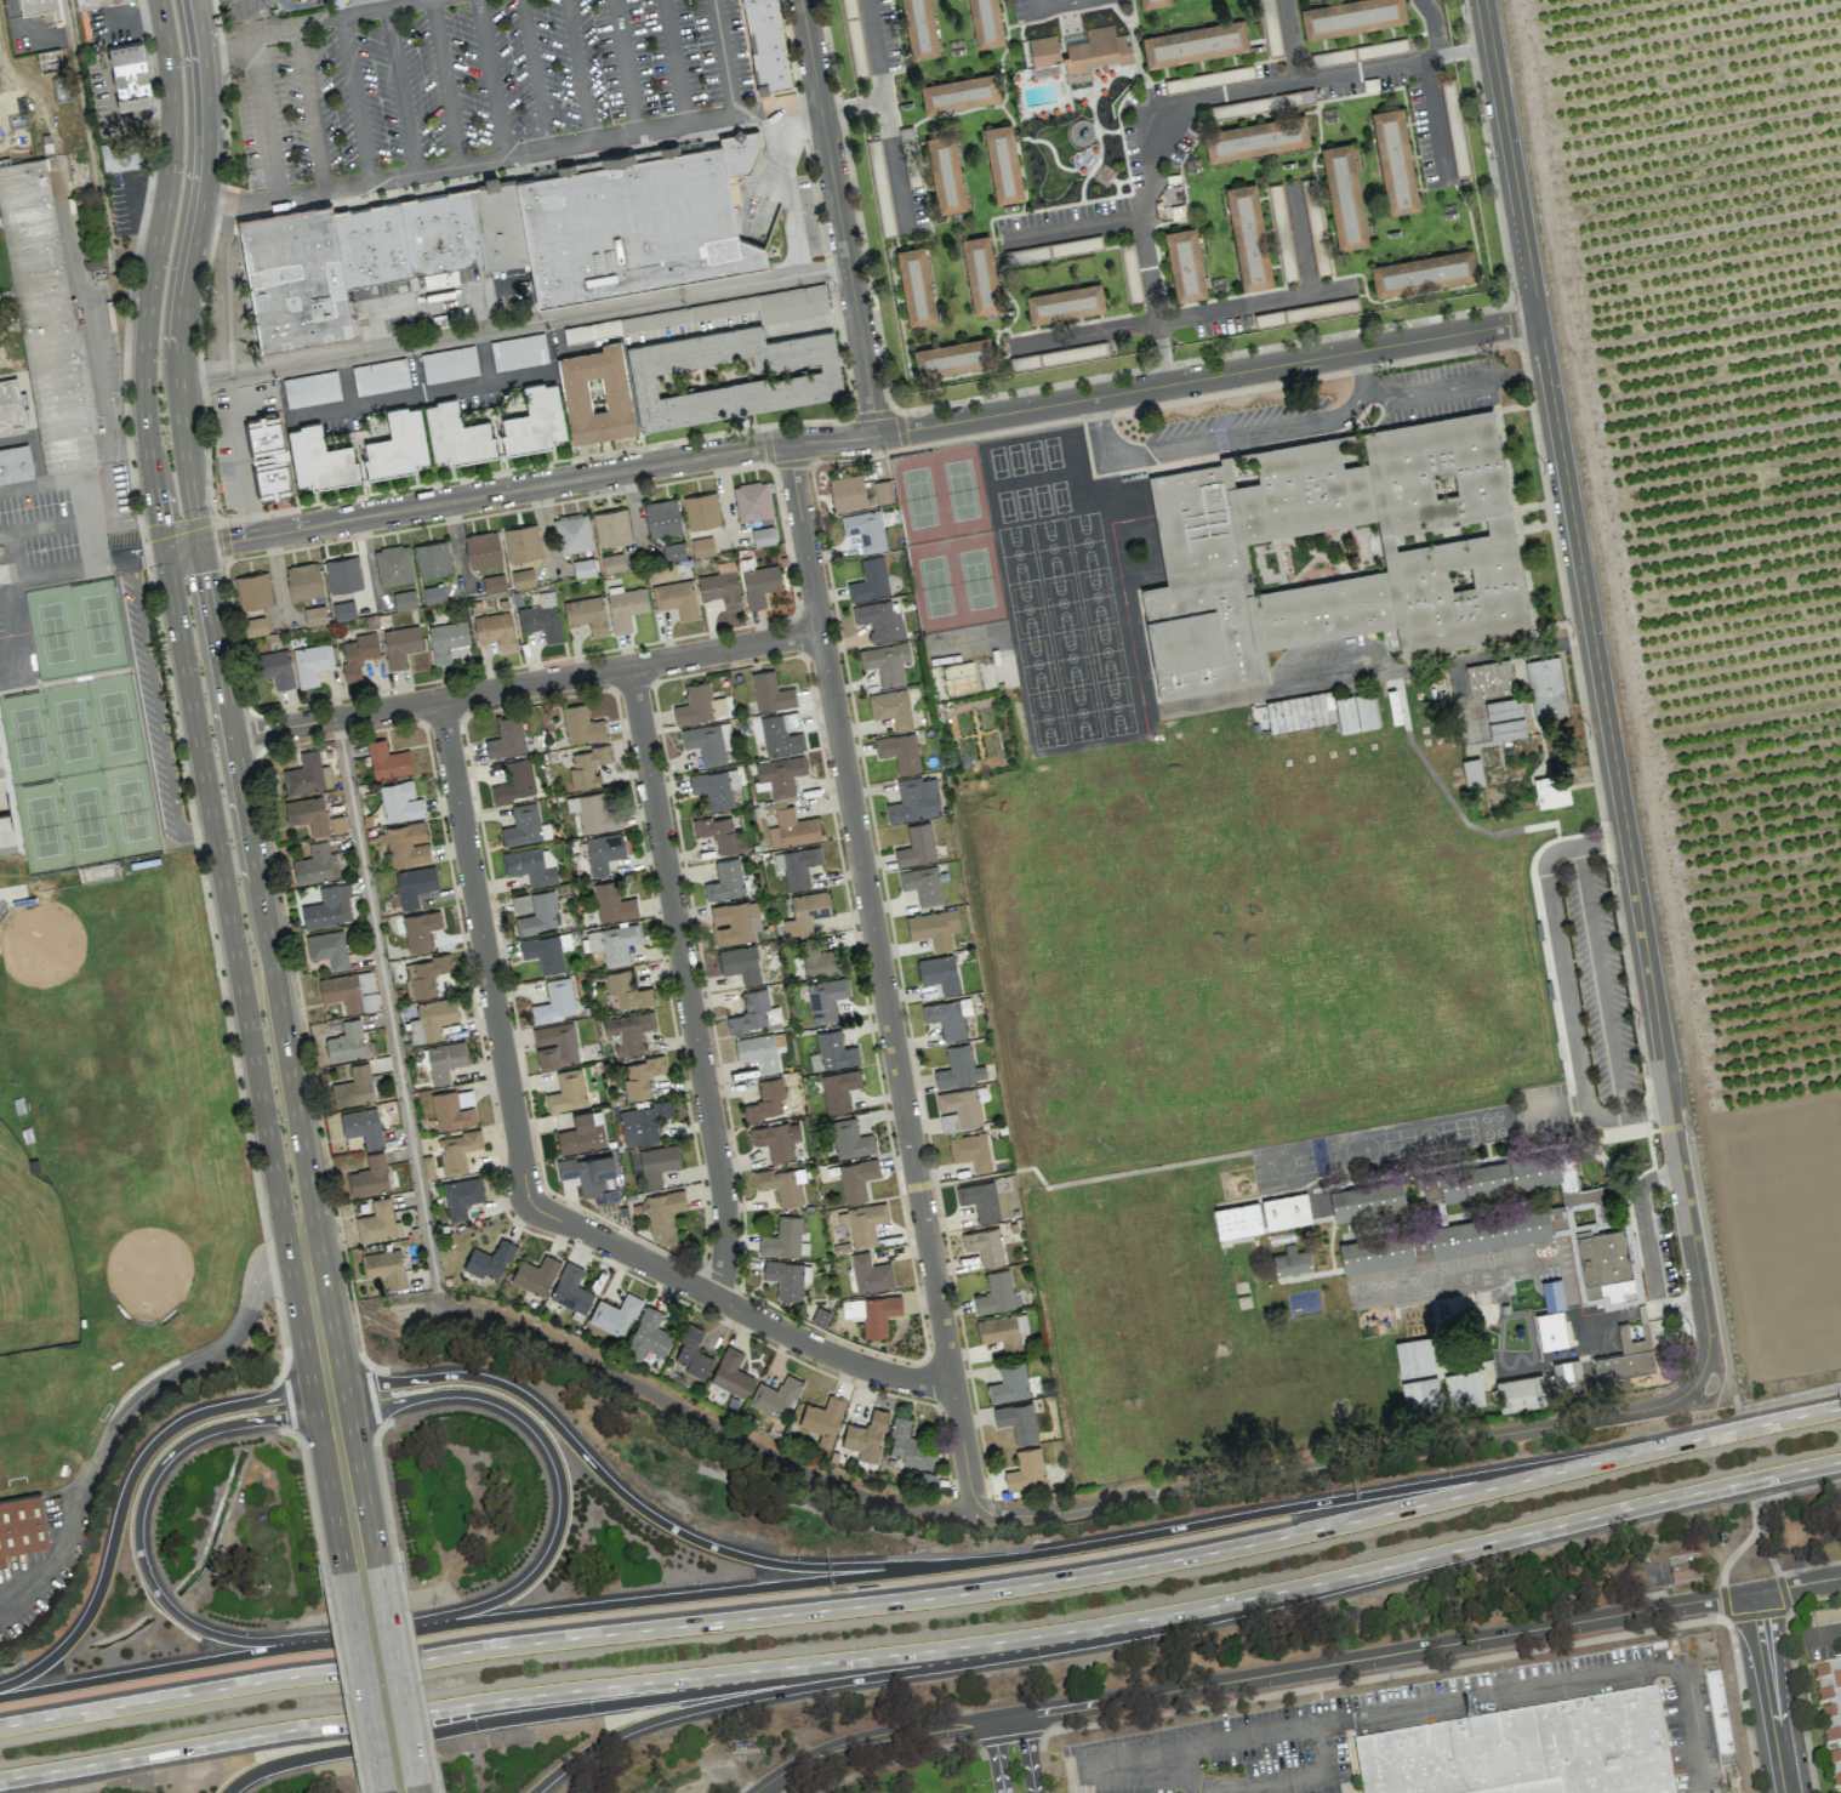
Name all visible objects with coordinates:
building: (91, 2)
road: (246, 2)
building: (1155, 2)
road: (296, 4)
road: (1064, 7)
building: (42, 8)
parking lot: (244, 10)
road: (366, 10)
building: (1351, 17)
building: (986, 23)
road: (18, 27)
building: (920, 29)
road: (1432, 34)
road: (256, 35)
road: (1288, 40)
building: (1197, 44)
building: (765, 45)
road: (1465, 49)
road: (874, 51)
building: (1082, 51)
road: (722, 57)
building: (49, 61)
road: (673, 61)
road: (625, 66)
road: (577, 69)
building: (129, 74)
road: (534, 74)
road: (490, 79)
road: (1290, 81)
road: (445, 82)
parking lot: (483, 86)
road: (399, 90)
building: (959, 93)
road: (357, 97)
road: (310, 107)
road: (851, 107)
road: (263, 118)
road: (682, 123)
building: (1258, 137)
building: (739, 150)
road: (525, 153)
building: (120, 154)
building: (1395, 161)
building: (1004, 164)
road: (895, 165)
building: (946, 173)
road: (377, 180)
road: (785, 186)
building: (1346, 194)
road: (227, 200)
road: (838, 217)
building: (497, 222)
building: (631, 223)
road: (1077, 224)
building: (472, 226)
building: (437, 232)
building: (1249, 233)
building: (370, 243)
building: (1187, 263)
road: (192, 273)
building: (1425, 273)
building: (982, 274)
road: (150, 275)
building: (293, 277)
building: (916, 288)
road: (1152, 301)
building: (791, 302)
building: (1062, 302)
road: (224, 306)
road: (1218, 308)
building: (45, 318)
road: (513, 325)
building: (586, 331)
road: (95, 346)
building: (518, 352)
building: (954, 357)
building: (449, 364)
building: (730, 374)
building: (381, 376)
road: (1452, 385)
building: (310, 388)
building: (595, 393)
building: (10, 408)
building: (535, 420)
building: (456, 433)
road: (868, 436)
road: (1229, 437)
building: (398, 444)
park: (1050, 450)
park: (1033, 454)
road: (240, 455)
building: (268, 455)
park: (1015, 456)
building: (319, 457)
park: (996, 460)
building: (15, 462)
road: (771, 463)
road: (92, 477)
road: (79, 482)
park: (962, 490)
building: (882, 491)
building: (847, 493)
park: (1058, 494)
park: (918, 497)
park: (1039, 497)
building: (752, 501)
park: (1022, 501)
park: (1003, 503)
building: (701, 511)
building: (661, 517)
road: (203, 522)
traffic signals: (159, 524)
road: (50, 525)
building: (611, 526)
building: (865, 530)
building: (571, 533)
building: (763, 535)
park: (1085, 540)
traffic signals: (229, 541)
building: (521, 542)
park: (1050, 545)
building: (702, 546)
road: (16, 547)
road: (181, 548)
building: (483, 548)
building: (673, 551)
park: (1015, 551)
building: (1336, 551)
road: (1577, 553)
traffic signals: (139, 557)
road: (129, 558)
building: (432, 558)
building: (614, 562)
building: (393, 564)
building: (583, 567)
traffic signals: (203, 573)
building: (342, 574)
road: (25, 576)
building: (523, 577)
park: (978, 579)
building: (870, 580)
building: (303, 581)
building: (494, 584)
building: (759, 584)
building: (720, 586)
park: (934, 586)
building: (252, 590)
building: (433, 593)
park: (1095, 594)
building: (404, 598)
building: (676, 598)
park: (1060, 600)
building: (625, 607)
park: (1025, 607)
building: (343, 610)
building: (314, 614)
building: (586, 614)
building: (542, 617)
building: (880, 620)
park: (102, 626)
building: (253, 626)
building: (495, 630)
park: (57, 634)
building: (446, 639)
building: (400, 644)
park: (1105, 650)
building: (358, 653)
road: (1493, 654)
park: (1068, 655)
park: (1035, 661)
building: (310, 662)
building: (885, 662)
building: (273, 667)
building: (1489, 678)
road: (524, 684)
building: (1545, 688)
road: (1398, 690)
building: (770, 691)
building: (699, 704)
park: (1113, 705)
building: (891, 707)
building: (1503, 707)
road: (158, 711)
park: (1079, 711)
building: (1355, 711)
park: (1044, 717)
park: (120, 723)
building: (581, 724)
building: (1506, 728)
park: (75, 732)
building: (781, 734)
building: (506, 738)
park: (32, 739)
building: (708, 742)
building: (899, 751)
building: (387, 759)
building: (586, 765)
building: (1471, 770)
building: (307, 774)
building: (780, 774)
building: (514, 781)
building: (714, 787)
building: (1551, 790)
building: (914, 799)
building: (399, 801)
park: (135, 813)
building: (593, 813)
building: (308, 815)
park: (91, 820)
building: (337, 824)
building: (521, 825)
park: (46, 829)
building: (792, 829)
building: (719, 832)
building: (405, 843)
building: (919, 847)
building: (603, 852)
building: (315, 865)
building: (531, 865)
building: (796, 865)
building: (725, 881)
building: (922, 884)
building: (412, 886)
building: (520, 903)
building: (611, 903)
building: (329, 907)
building: (805, 912)
building: (538, 913)
building: (734, 922)
building: (933, 927)
building: (420, 929)
building: (612, 943)
building: (327, 949)
road: (483, 950)
building: (543, 952)
building: (819, 960)
building: (740, 963)
road: (1560, 964)
building: (939, 973)
building: (423, 975)
road: (879, 978)
parking lot: (1598, 978)
road: (684, 980)
road: (1601, 980)
road: (274, 986)
road: (240, 987)
building: (349, 991)
building: (825, 998)
building: (554, 1001)
road: (388, 1011)
building: (754, 1012)
building: (947, 1015)
park: (122, 1019)
building: (432, 1019)
building: (628, 1030)
building: (346, 1041)
building: (554, 1045)
building: (834, 1049)
building: (757, 1051)
park: (1, 1053)
building: (444, 1060)
building: (958, 1068)
building: (640, 1076)
building: (354, 1086)
building: (838, 1089)
building: (568, 1091)
road: (1674, 1093)
building: (765, 1100)
building: (961, 1105)
road: (1554, 1105)
building: (454, 1109)
parking lot: (1545, 1109)
road: (1646, 1111)
building: (642, 1122)
building: (948, 1122)
building: (361, 1126)
road: (1672, 1127)
building: (582, 1133)
road: (1607, 1138)
road: (1674, 1138)
building: (776, 1139)
building: (850, 1139)
road: (1027, 1145)
building: (457, 1150)
building: (970, 1151)
building: (657, 1163)
road: (1648, 1168)
road: (1607, 1171)
building: (369, 1176)
building: (591, 1176)
building: (1498, 1176)
building: (856, 1178)
road: (1082, 1180)
building: (782, 1184)
road: (913, 1184)
building: (1568, 1186)
building: (461, 1196)
building: (979, 1200)
building: (1368, 1200)
building: (1286, 1211)
building: (661, 1213)
building: (1236, 1219)
building: (377, 1222)
building: (863, 1223)
road: (1589, 1225)
building: (1494, 1231)
road: (1691, 1234)
park: (156, 1236)
building: (782, 1237)
building: (985, 1245)
road: (1647, 1246)
building: (1375, 1252)
parking lot: (1660, 1254)
park: (32, 1257)
building: (489, 1259)
building: (1292, 1260)
road: (1575, 1262)
building: (1606, 1264)
building: (384, 1267)
road: (1711, 1267)
building: (870, 1273)
building: (535, 1275)
building: (787, 1277)
building: (570, 1290)
road: (1638, 1291)
building: (996, 1292)
road: (733, 1307)
building: (871, 1313)
building: (614, 1315)
building: (820, 1316)
building: (1002, 1331)
building: (646, 1336)
road: (1706, 1339)
building: (691, 1353)
building: (1414, 1356)
building: (1626, 1362)
building: (730, 1372)
building: (1567, 1372)
building: (1009, 1382)
building: (1521, 1393)
building: (1465, 1395)
road: (1801, 1395)
building: (723, 1396)
building: (776, 1398)
building: (1420, 1398)
road: (286, 1402)
road: (120, 1413)
road: (703, 1417)
building: (822, 1419)
building: (1018, 1421)
road: (1784, 1422)
building: (866, 1436)
building: (910, 1445)
road: (1341, 1462)
road: (557, 1469)
building: (1026, 1469)
road: (1802, 1491)
road: (383, 1493)
road: (122, 1496)
road: (364, 1497)
road: (1356, 1497)
road: (310, 1499)
road: (330, 1499)
road: (645, 1505)
building: (21, 1525)
road: (1746, 1539)
road: (1481, 1541)
road: (136, 1543)
road: (1808, 1546)
road: (1766, 1550)
road: (1780, 1550)
road: (1808, 1566)
building: (1685, 1572)
road: (1797, 1584)
road: (663, 1599)
road: (868, 1612)
road: (1757, 1613)
building: (1826, 1615)
road: (1824, 1633)
road: (1020, 1635)
road: (171, 1666)
park: (1247, 1667)
road: (415, 1670)
road: (1384, 1673)
road: (397, 1675)
road: (1249, 1675)
parking lot: (1504, 1680)
road: (343, 1683)
road: (361, 1683)
road: (817, 1684)
road: (1773, 1691)
road: (1466, 1695)
road: (457, 1698)
building: (1829, 1700)
road: (1799, 1701)
road: (1743, 1704)
road: (572, 1707)
road: (1010, 1736)
parking lot: (1681, 1737)
building: (1527, 1751)
road: (1027, 1753)
parking lot: (1220, 1754)
road: (997, 1755)
road: (894, 1760)
road: (1128, 1764)
building: (1835, 1766)
road: (1339, 1780)
road: (1288, 1781)
road: (435, 1787)
road: (416, 1788)
road: (380, 1792)

